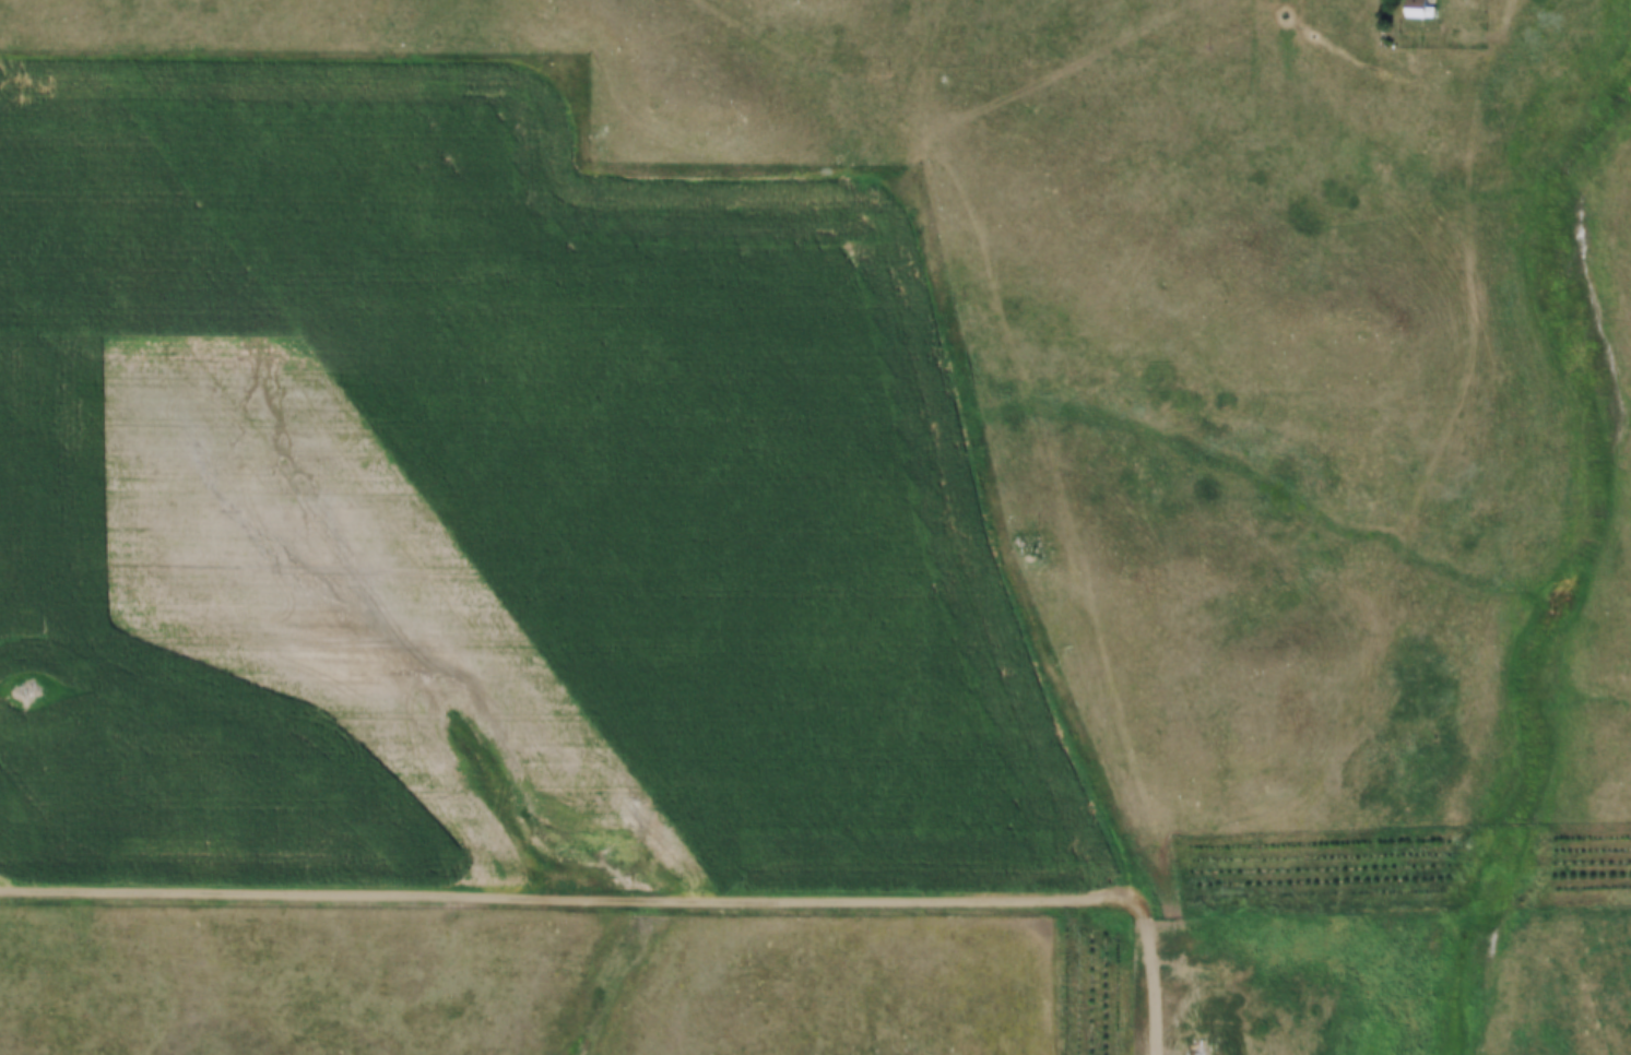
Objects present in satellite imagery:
building: (1417, 8)
road: (1497, 31)
road: (512, 898)
road: (1077, 960)

